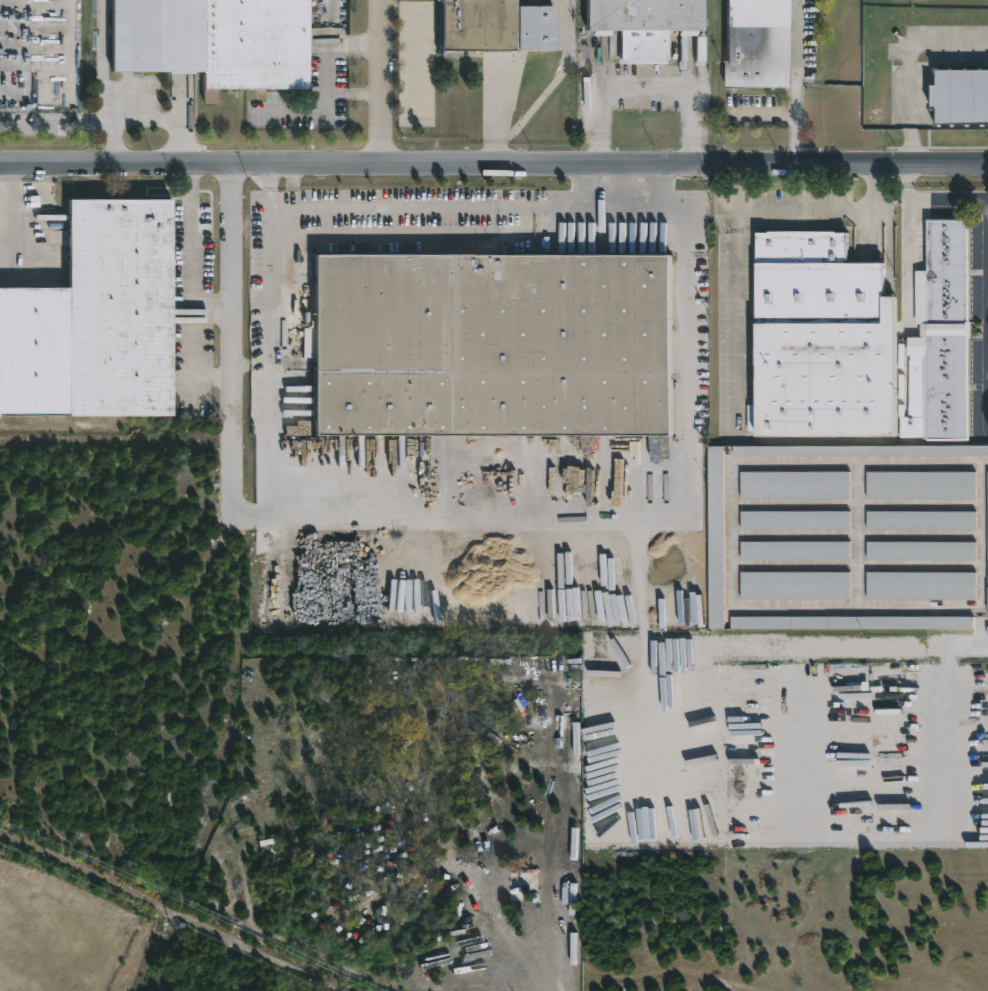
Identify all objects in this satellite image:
building: (650, 23)
building: (486, 24)
building: (543, 25)
building: (214, 42)
building: (757, 44)
road: (417, 46)
road: (912, 68)
road: (326, 71)
road: (381, 82)
road: (798, 82)
road: (645, 88)
building: (958, 97)
road: (495, 111)
road: (146, 120)
road: (494, 164)
road: (294, 186)
road: (269, 187)
road: (588, 187)
road: (737, 187)
road: (663, 188)
road: (811, 207)
road: (306, 209)
road: (29, 217)
road: (690, 240)
road: (904, 243)
road: (987, 270)
building: (945, 271)
road: (188, 290)
road: (210, 309)
building: (98, 320)
road: (734, 332)
building: (816, 339)
building: (495, 345)
building: (914, 378)
building: (944, 385)
road: (233, 405)
road: (262, 440)
road: (985, 463)
building: (659, 468)
building: (795, 485)
building: (920, 485)
road: (249, 516)
road: (517, 517)
building: (795, 520)
building: (920, 520)
road: (730, 536)
building: (716, 537)
building: (794, 550)
building: (920, 551)
road: (981, 552)
building: (987, 552)
building: (673, 555)
building: (795, 585)
building: (921, 586)
building: (665, 615)
building: (851, 622)
road: (167, 915)
road: (148, 953)

